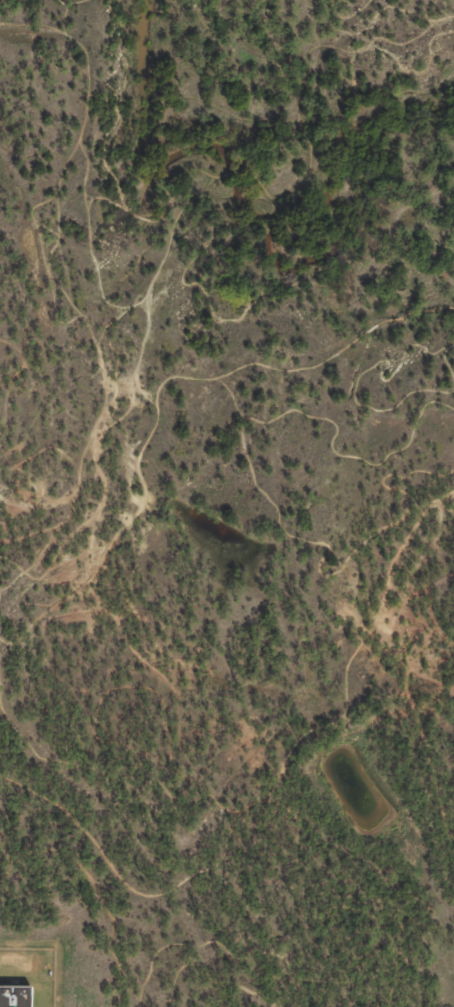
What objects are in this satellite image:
road: (70, 7)
road: (373, 13)
road: (387, 194)
road: (98, 201)
road: (299, 271)
road: (94, 348)
road: (280, 365)
road: (15, 377)
road: (77, 486)
road: (249, 492)
road: (6, 611)
road: (411, 694)
road: (178, 699)
road: (2, 838)
road: (92, 891)
road: (256, 957)
building: (14, 996)

